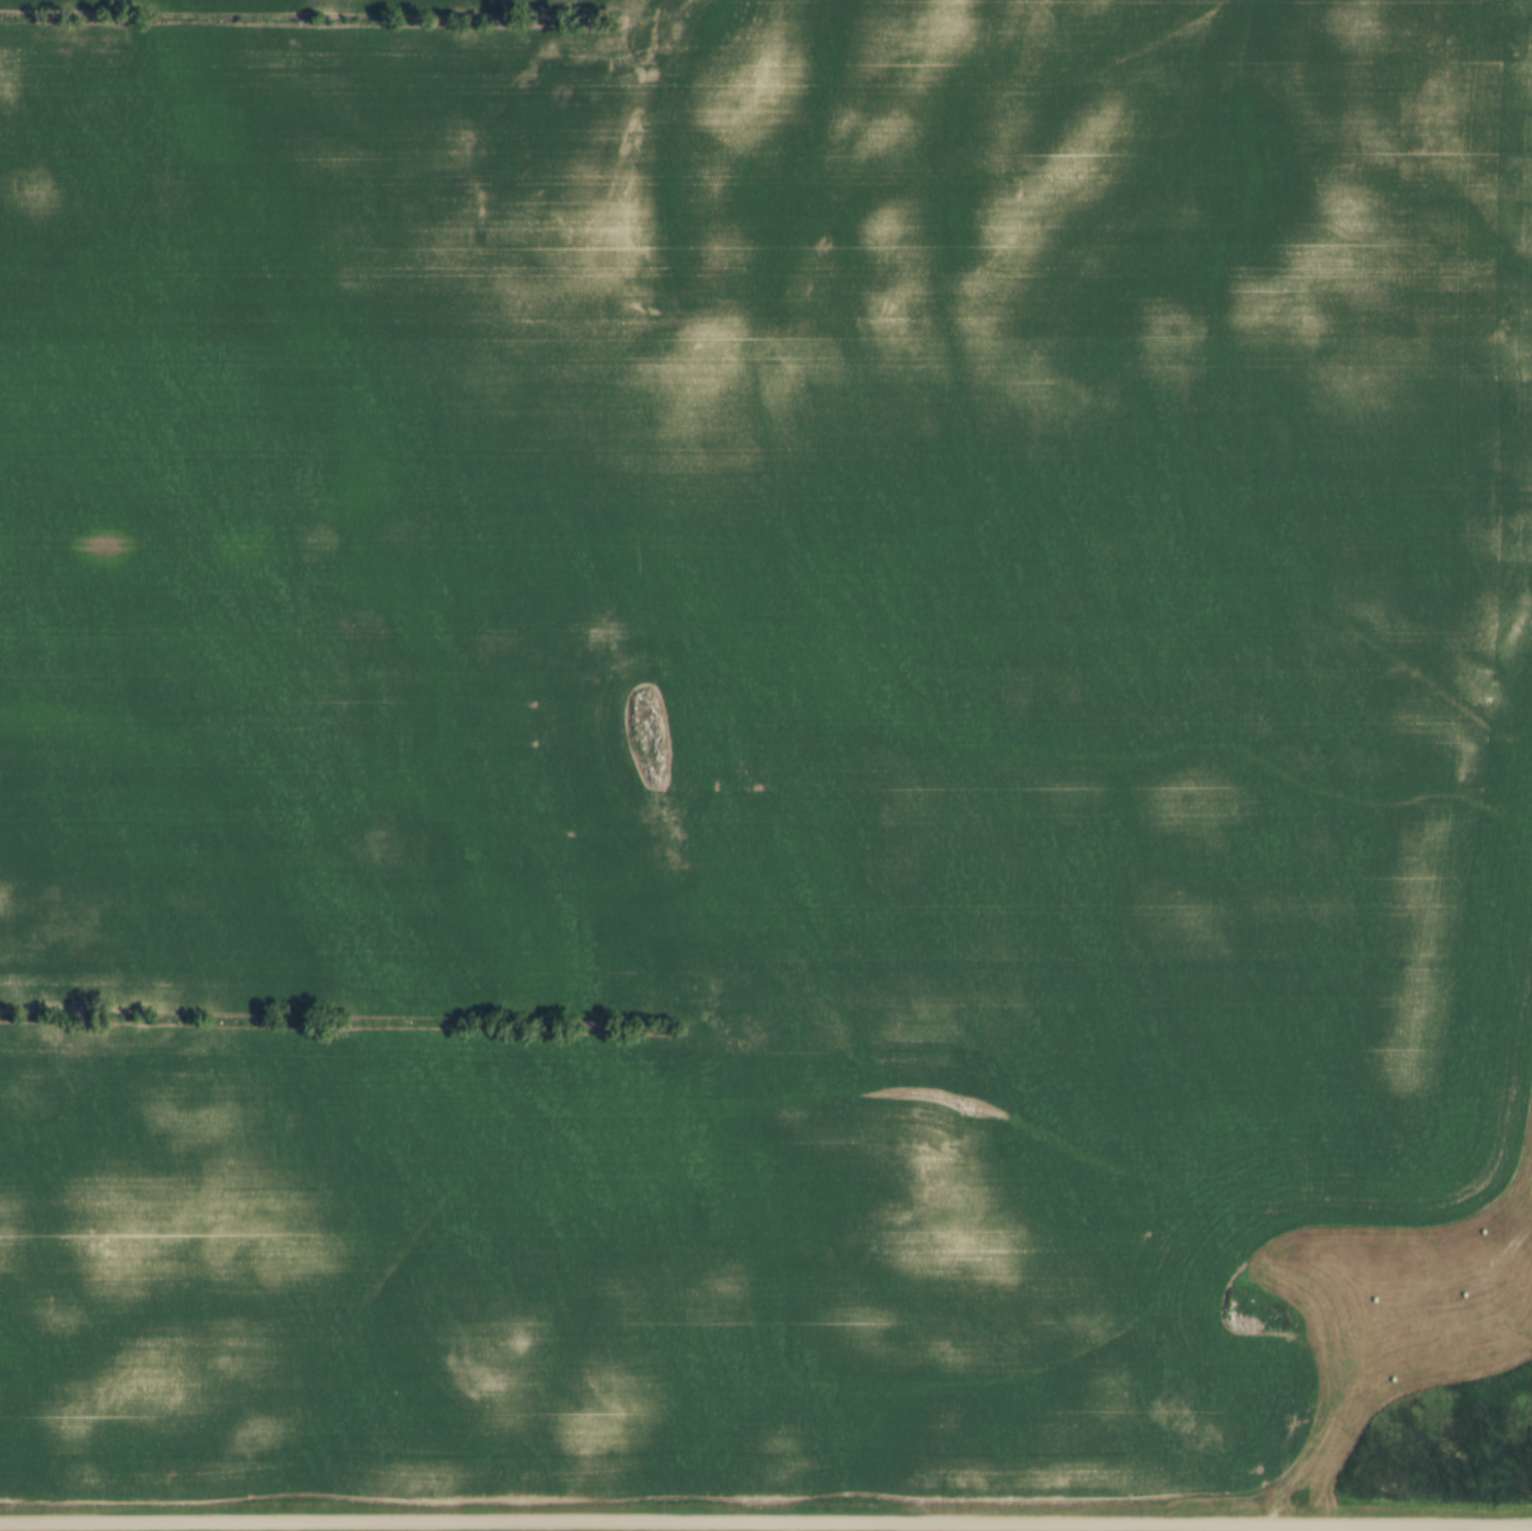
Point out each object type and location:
road: (765, 1523)

